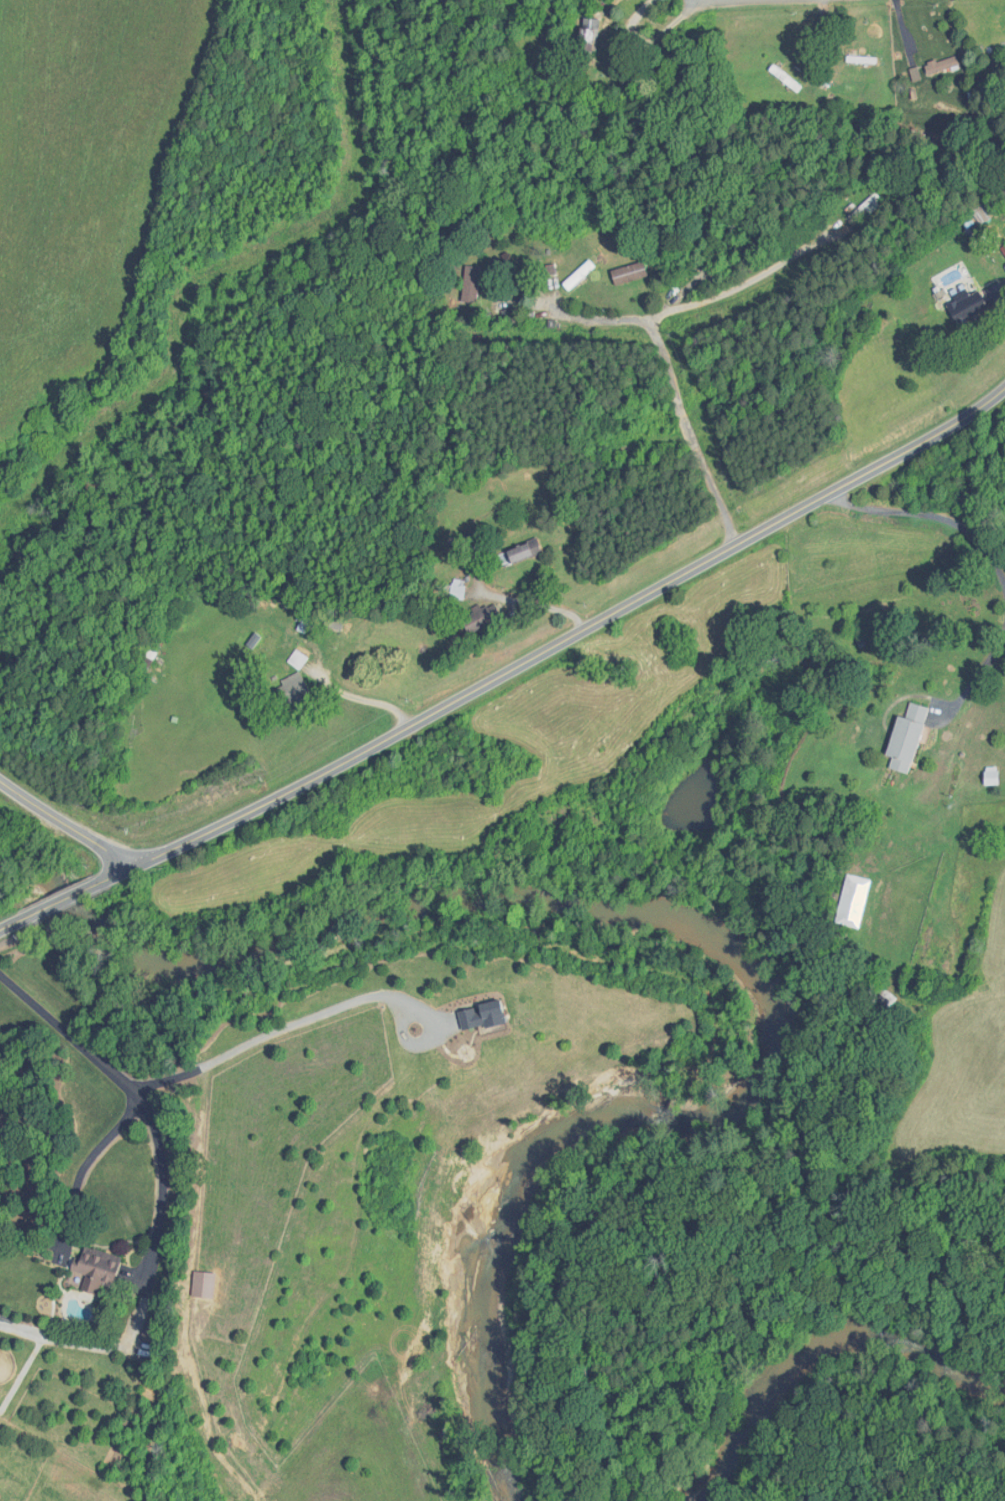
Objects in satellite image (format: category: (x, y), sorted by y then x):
building: (588, 33)
building: (938, 66)
building: (783, 78)
building: (978, 212)
building: (576, 275)
building: (468, 284)
building: (964, 306)
road: (659, 308)
road: (688, 429)
road: (930, 515)
building: (518, 554)
building: (468, 558)
building: (454, 592)
building: (475, 620)
building: (295, 660)
road: (508, 670)
road: (979, 673)
building: (288, 691)
building: (904, 739)
building: (989, 775)
road: (65, 824)
building: (851, 901)
road: (273, 1033)
road: (138, 1104)
road: (89, 1161)
building: (91, 1269)

